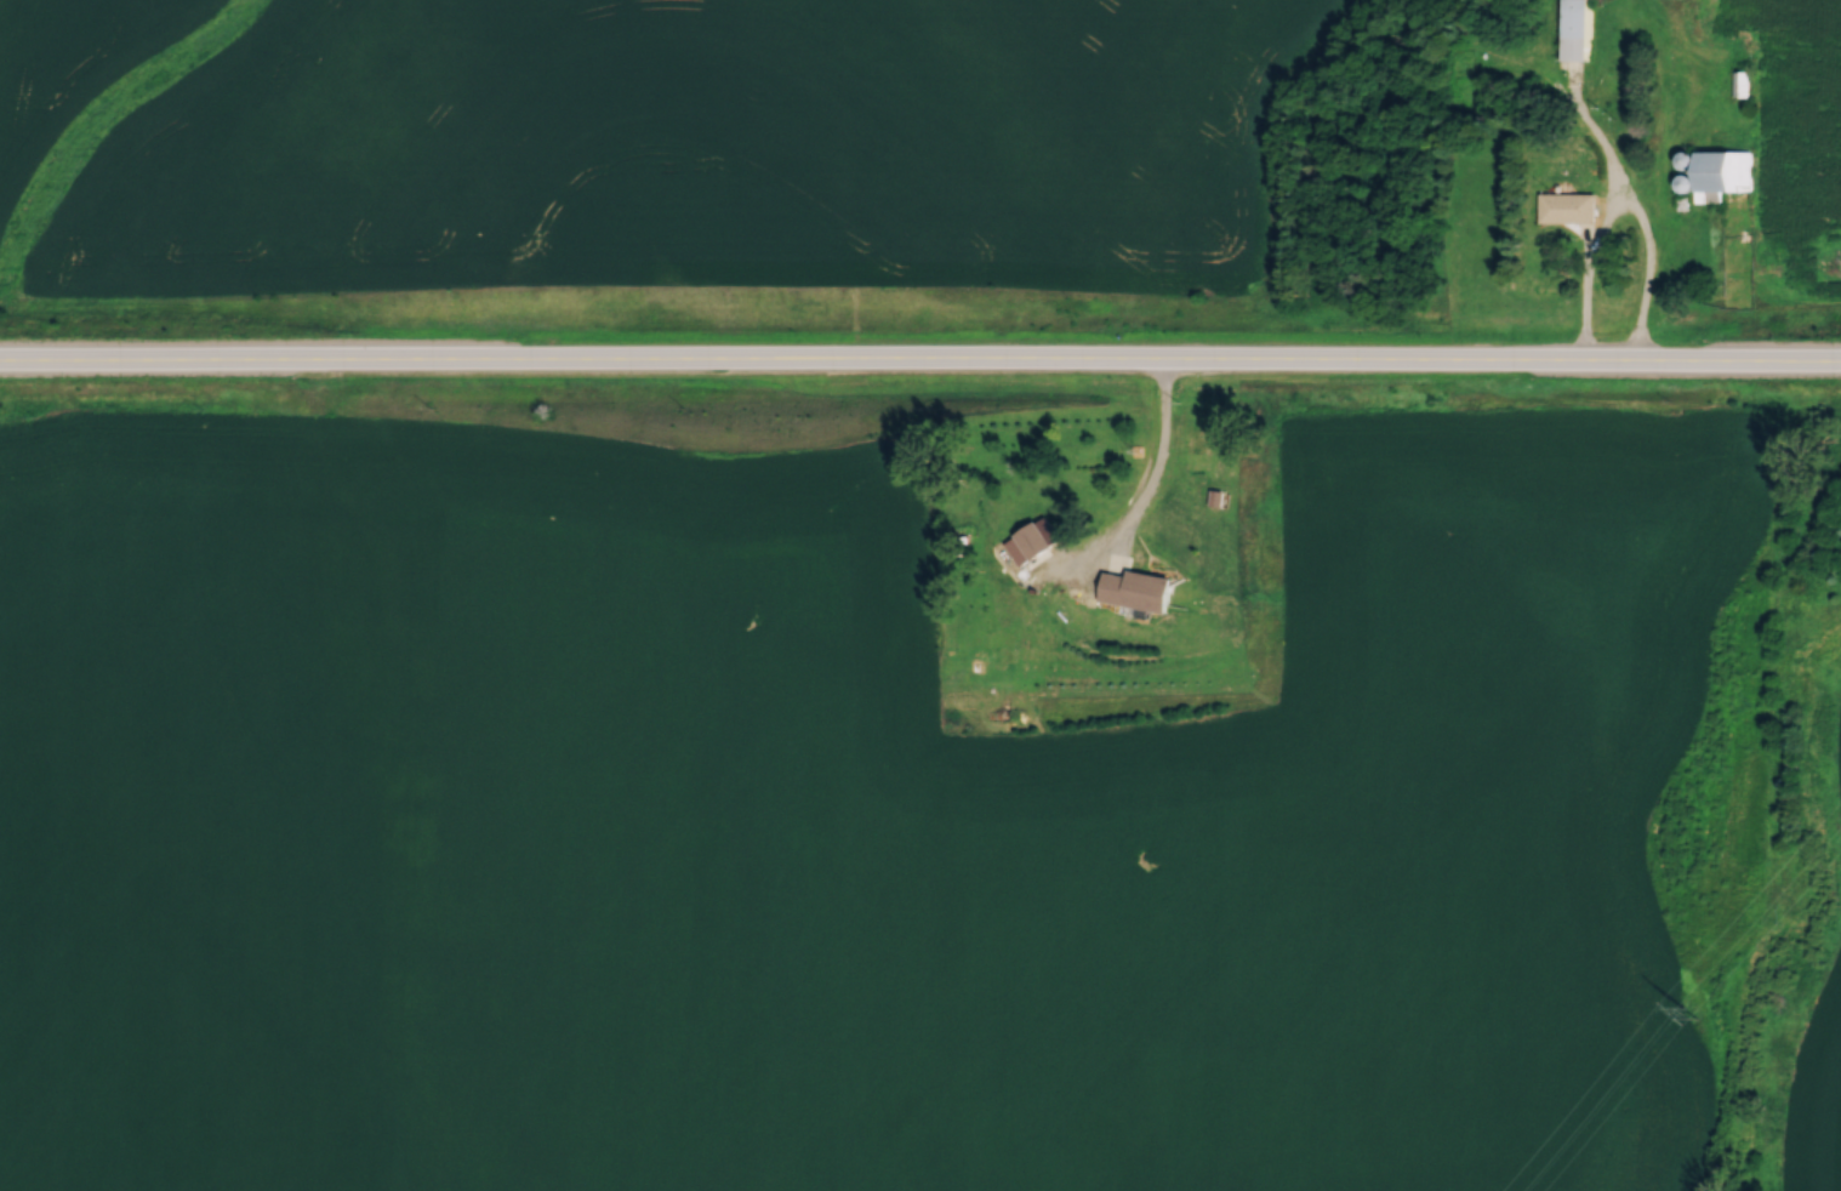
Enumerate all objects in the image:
building: (1574, 28)
building: (1739, 79)
building: (1720, 169)
building: (1566, 203)
road: (1643, 272)
road: (919, 363)
road: (1153, 468)
building: (1026, 537)
building: (1133, 582)
power tower: (1691, 1003)

